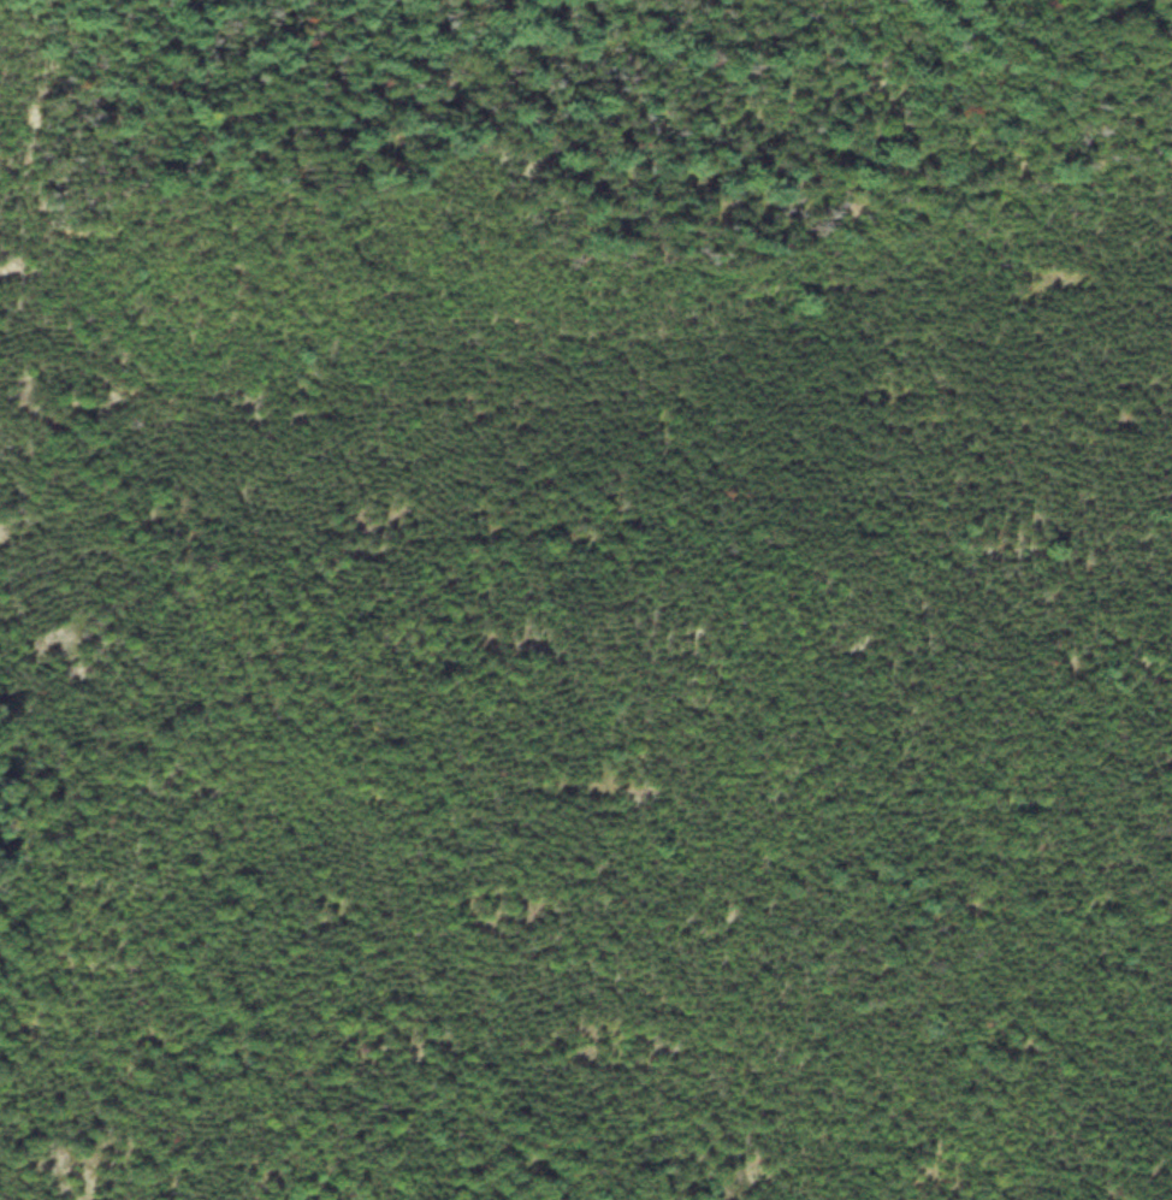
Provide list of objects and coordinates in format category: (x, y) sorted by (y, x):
road: (587, 383)

